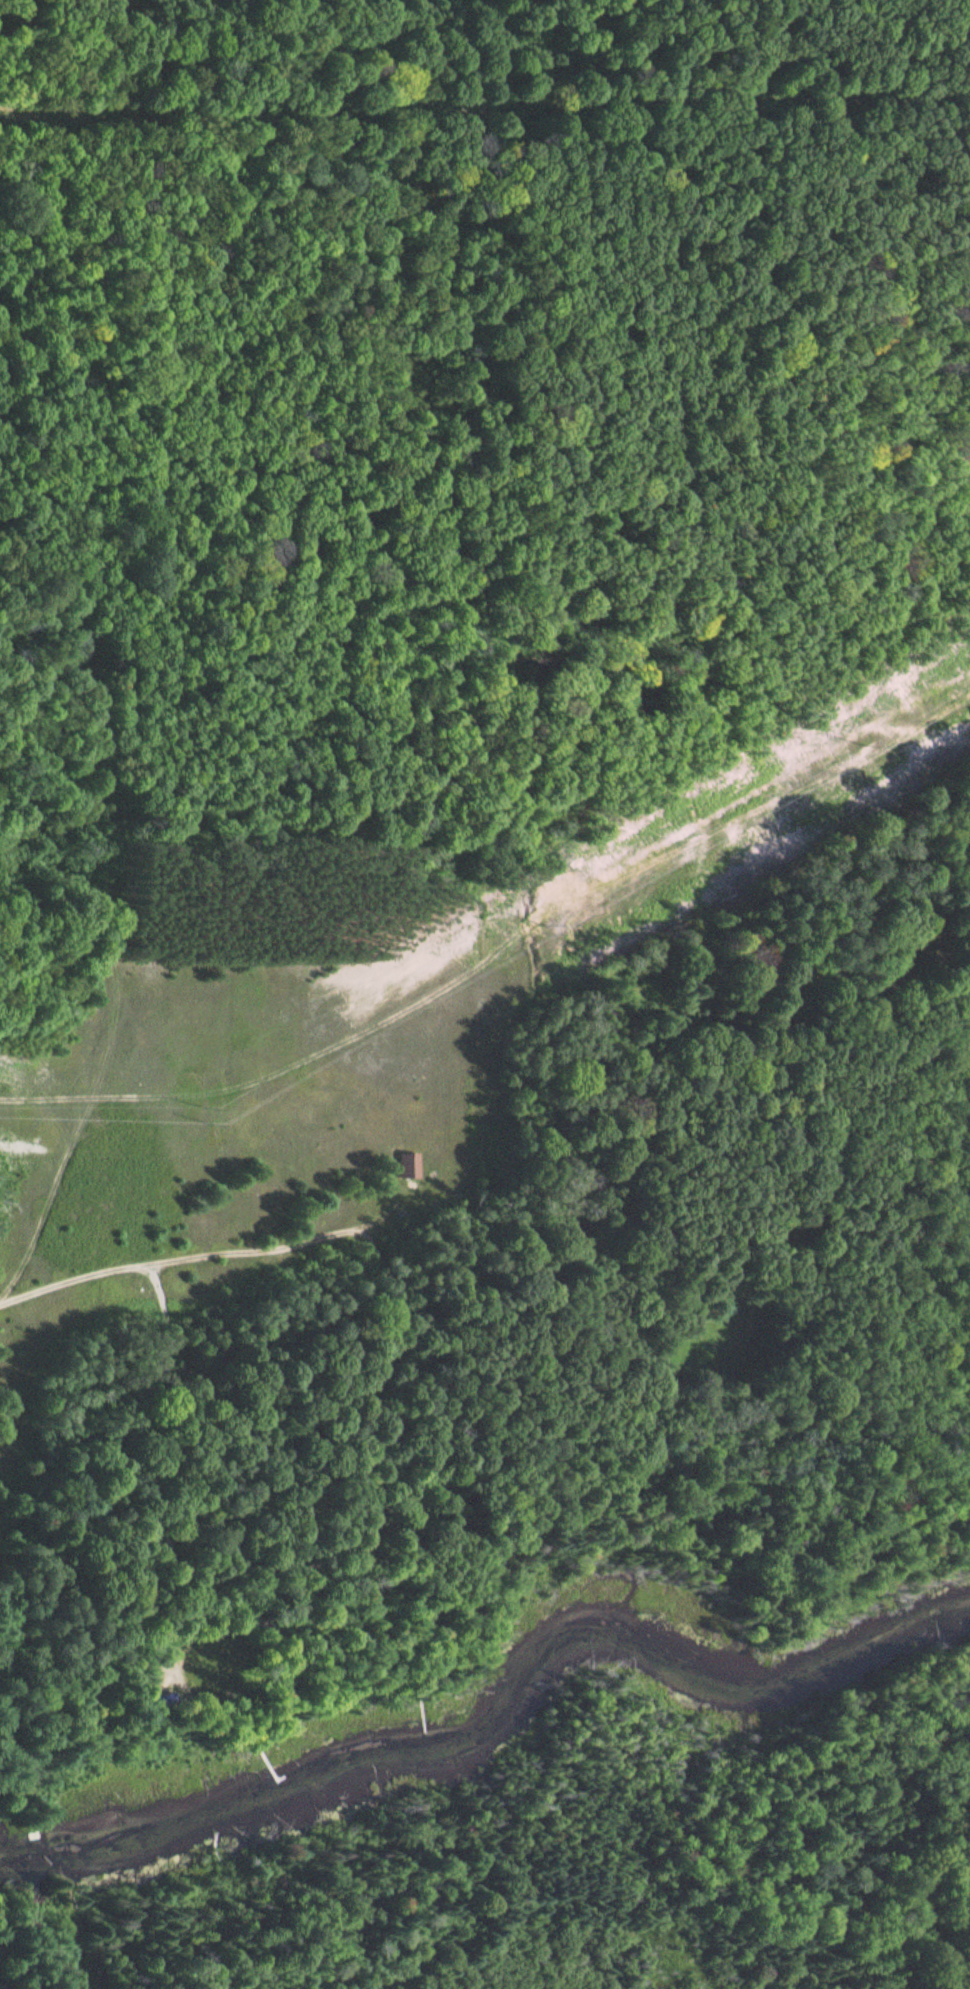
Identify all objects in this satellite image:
road: (507, 1182)
building: (438, 1492)
river: (496, 1696)
building: (3, 1985)

